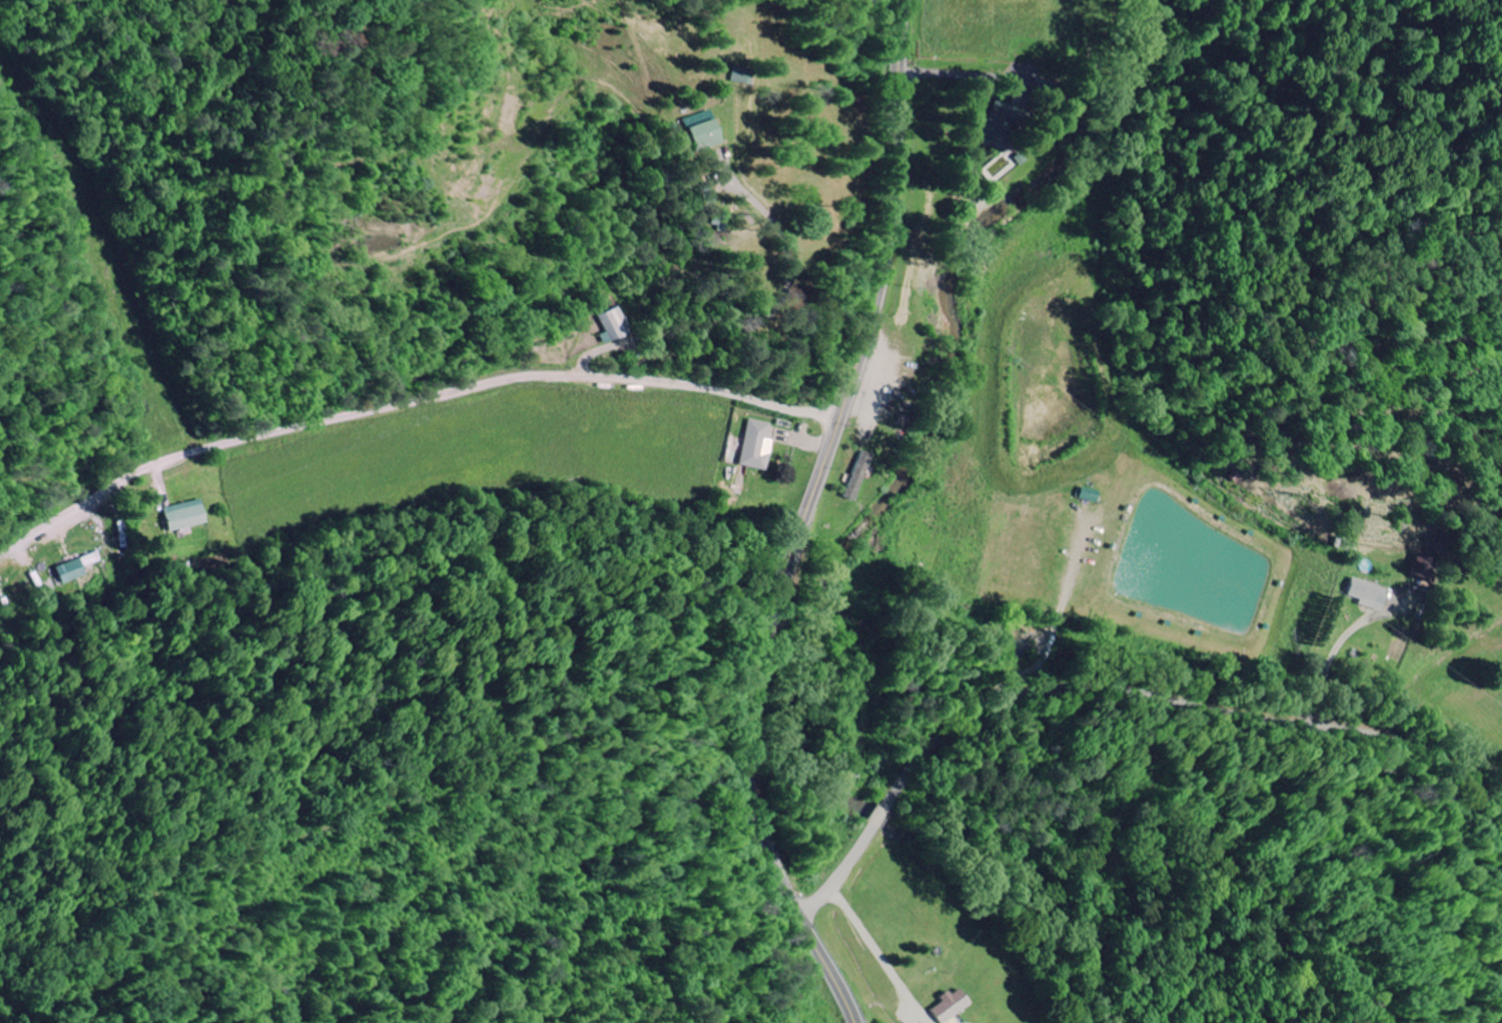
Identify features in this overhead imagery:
building: (991, 131)
building: (699, 136)
road: (184, 321)
building: (614, 326)
road: (408, 400)
building: (757, 447)
road: (828, 459)
building: (856, 477)
building: (1087, 496)
building: (181, 517)
building: (72, 569)
building: (1368, 595)
road: (1125, 719)
road: (838, 969)
building: (947, 1008)

